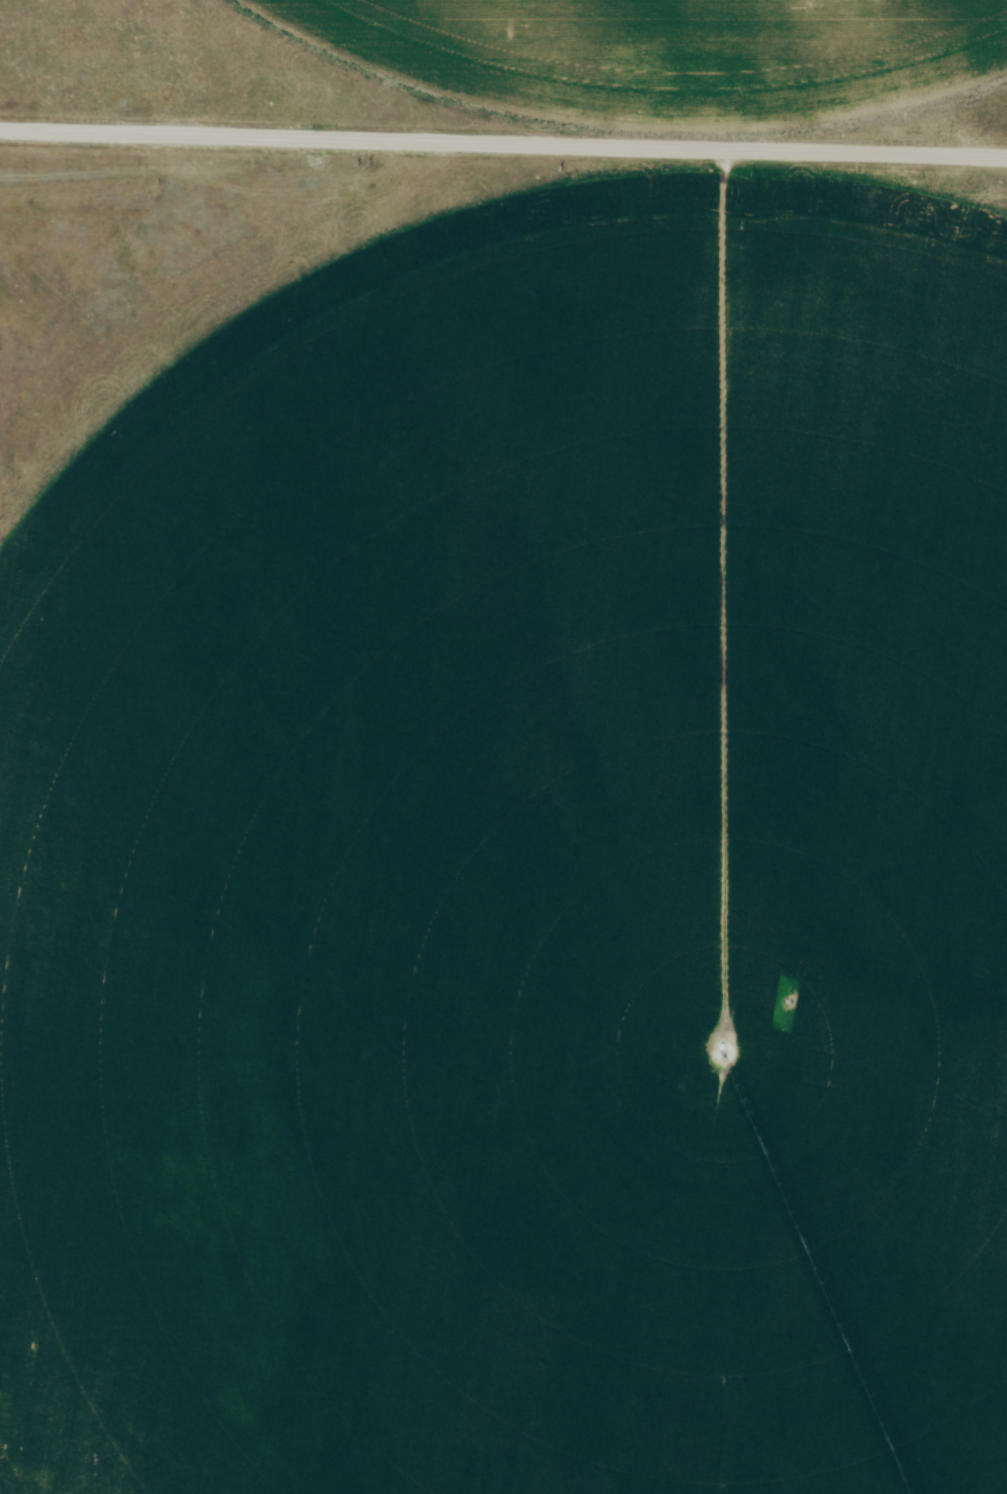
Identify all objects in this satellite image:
crop: (673, 53)
road: (503, 142)
crop: (521, 867)

